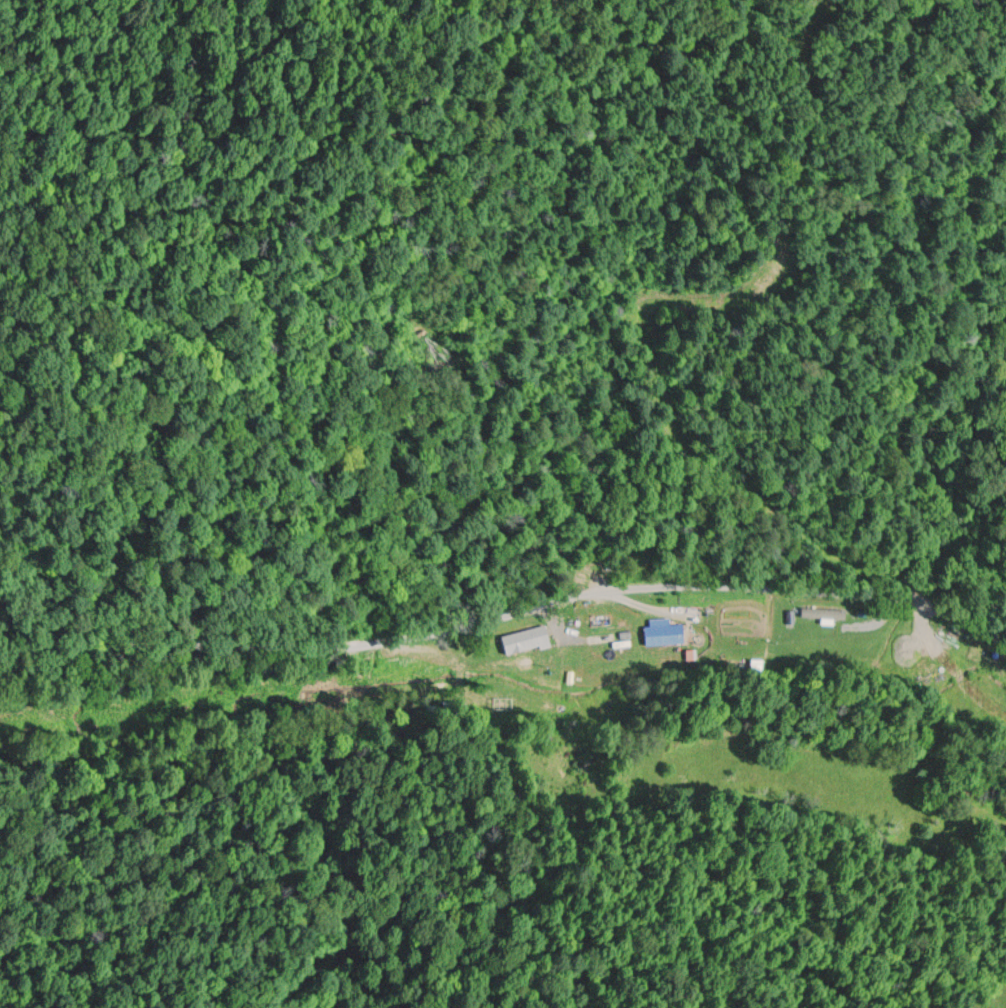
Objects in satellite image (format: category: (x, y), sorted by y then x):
road: (508, 614)
building: (670, 633)

